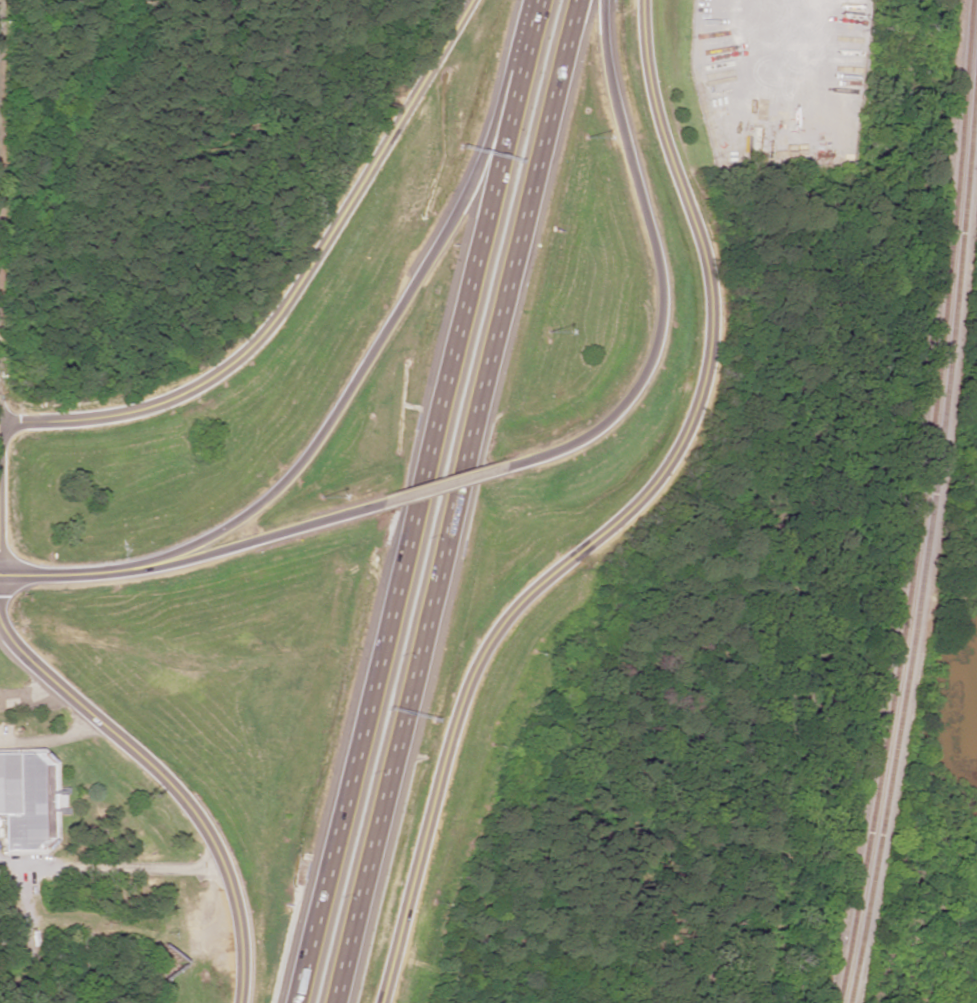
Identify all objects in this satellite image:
road: (661, 266)
road: (293, 290)
road: (348, 378)
road: (438, 482)
road: (421, 501)
road: (451, 501)
railway: (921, 503)
road: (618, 519)
railway: (926, 524)
road: (238, 544)
road: (52, 574)
road: (52, 739)
road: (169, 785)
road: (111, 870)

